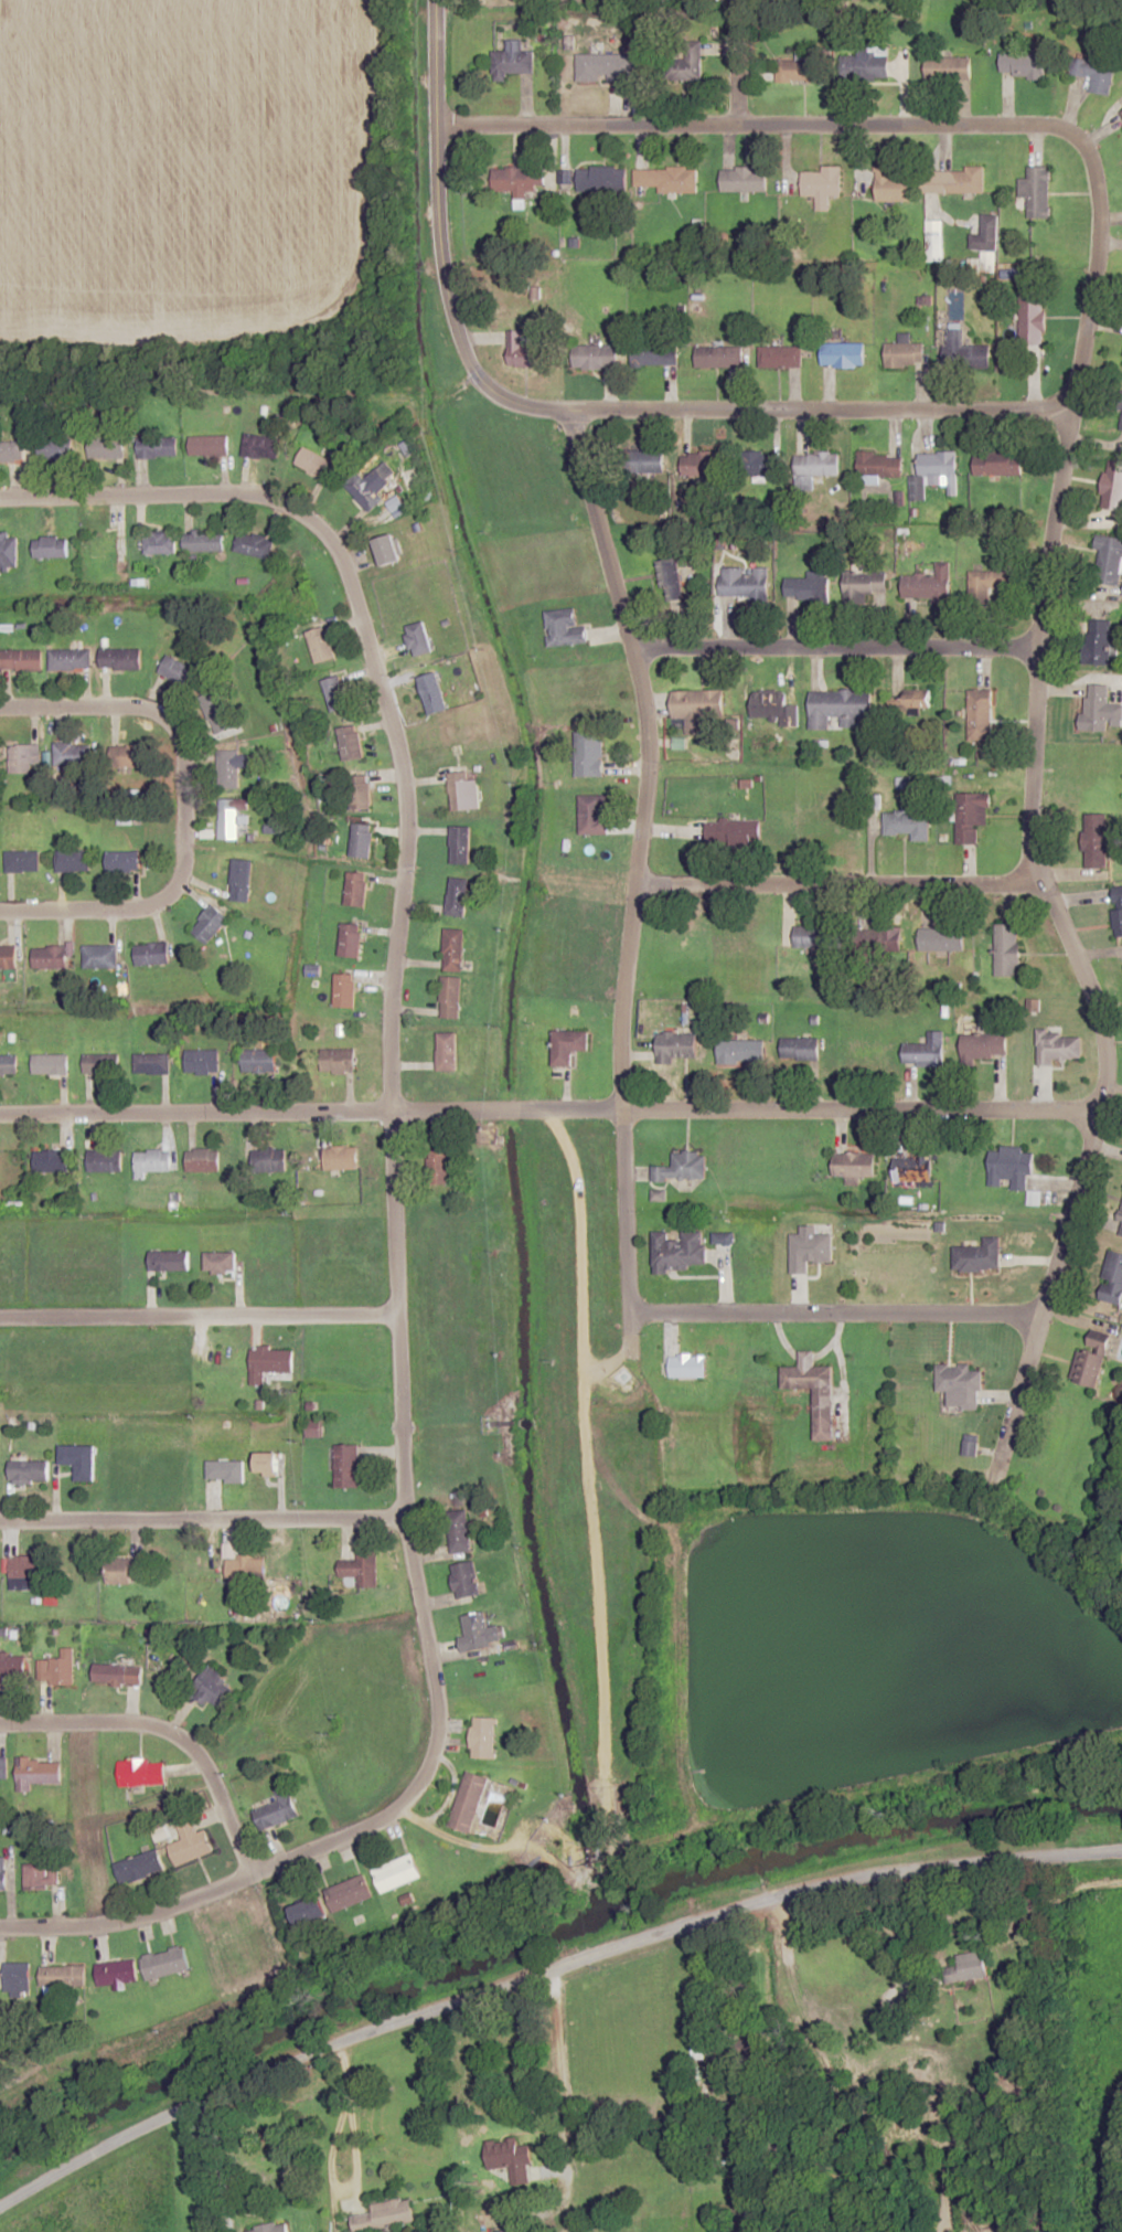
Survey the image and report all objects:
building: (512, 59)
road: (730, 62)
building: (684, 63)
building: (865, 64)
building: (1024, 65)
building: (600, 66)
building: (949, 67)
building: (801, 68)
building: (1096, 74)
building: (1120, 116)
building: (598, 178)
building: (523, 179)
building: (667, 179)
building: (745, 179)
building: (962, 180)
building: (823, 184)
building: (893, 187)
building: (1037, 191)
road: (1097, 193)
building: (985, 234)
road: (436, 245)
building: (1033, 319)
building: (525, 350)
building: (966, 352)
building: (655, 353)
building: (843, 354)
building: (905, 354)
building: (719, 355)
building: (781, 355)
building: (596, 357)
road: (1079, 440)
building: (209, 445)
building: (158, 446)
building: (261, 446)
building: (107, 447)
building: (12, 450)
building: (52, 450)
building: (644, 460)
building: (316, 463)
building: (699, 463)
building: (762, 463)
building: (997, 463)
building: (880, 465)
building: (815, 467)
building: (934, 472)
building: (371, 485)
building: (1113, 485)
building: (204, 541)
building: (160, 542)
building: (254, 544)
building: (103, 545)
building: (51, 546)
building: (387, 549)
building: (1109, 561)
building: (671, 578)
building: (745, 582)
building: (864, 584)
building: (990, 584)
building: (805, 586)
building: (927, 587)
building: (565, 627)
building: (418, 638)
building: (1099, 640)
building: (321, 644)
road: (836, 647)
road: (370, 653)
building: (71, 658)
building: (120, 658)
building: (22, 659)
building: (179, 671)
building: (336, 692)
building: (432, 692)
building: (841, 706)
building: (697, 708)
building: (916, 708)
building: (1099, 708)
building: (216, 711)
building: (981, 714)
building: (351, 742)
building: (72, 754)
building: (590, 754)
road: (641, 755)
building: (128, 756)
building: (22, 758)
building: (227, 768)
building: (360, 791)
building: (463, 791)
road: (183, 808)
building: (594, 814)
building: (972, 816)
building: (229, 817)
building: (907, 825)
building: (734, 830)
building: (362, 839)
building: (1097, 840)
building: (460, 843)
building: (22, 860)
building: (73, 860)
building: (125, 861)
building: (242, 880)
road: (837, 881)
building: (356, 889)
building: (458, 896)
building: (1118, 907)
building: (210, 924)
building: (822, 935)
building: (943, 938)
building: (350, 939)
road: (1071, 946)
building: (1007, 948)
building: (455, 949)
building: (151, 954)
building: (49, 956)
building: (99, 956)
building: (8, 957)
building: (344, 990)
building: (451, 997)
building: (568, 1045)
building: (675, 1045)
building: (984, 1045)
building: (1057, 1046)
building: (801, 1049)
building: (447, 1051)
building: (741, 1051)
building: (927, 1051)
building: (338, 1060)
building: (202, 1061)
building: (259, 1061)
building: (50, 1063)
building: (100, 1063)
building: (151, 1063)
building: (9, 1064)
road: (859, 1107)
road: (309, 1113)
building: (341, 1157)
building: (268, 1159)
building: (51, 1160)
building: (104, 1160)
building: (202, 1160)
building: (151, 1161)
building: (855, 1163)
building: (438, 1167)
building: (683, 1167)
building: (913, 1167)
building: (1011, 1167)
road: (621, 1212)
building: (1120, 1215)
building: (1121, 1234)
building: (680, 1250)
building: (979, 1256)
building: (170, 1261)
building: (220, 1263)
building: (1112, 1278)
road: (834, 1314)
road: (303, 1316)
road: (583, 1330)
road: (619, 1359)
building: (1090, 1361)
building: (269, 1362)
building: (688, 1365)
building: (961, 1385)
building: (814, 1391)
building: (969, 1450)
building: (78, 1459)
building: (267, 1464)
building: (346, 1465)
building: (29, 1470)
building: (225, 1470)
road: (201, 1520)
building: (459, 1531)
road: (406, 1550)
building: (28, 1566)
building: (243, 1567)
building: (361, 1570)
building: (119, 1576)
building: (464, 1580)
building: (480, 1632)
road: (674, 1640)
road: (644, 1666)
building: (12, 1667)
building: (57, 1669)
building: (118, 1673)
building: (215, 1689)
road: (169, 1731)
building: (483, 1736)
building: (3, 1767)
building: (38, 1772)
building: (141, 1772)
building: (468, 1800)
building: (278, 1808)
building: (190, 1841)
building: (138, 1866)
building: (3, 1872)
building: (397, 1872)
building: (41, 1874)
building: (349, 1892)
building: (308, 1910)
road: (129, 1923)
road: (912, 1924)
building: (165, 1962)
road: (542, 1964)
building: (968, 1966)
building: (117, 1971)
building: (62, 1975)
building: (15, 1976)
road: (692, 1977)
building: (697, 2050)
road: (554, 2070)
road: (345, 2118)
building: (727, 2139)
building: (510, 2157)
road: (215, 2161)
building: (386, 2214)
building: (270, 2228)
building: (506, 2231)

